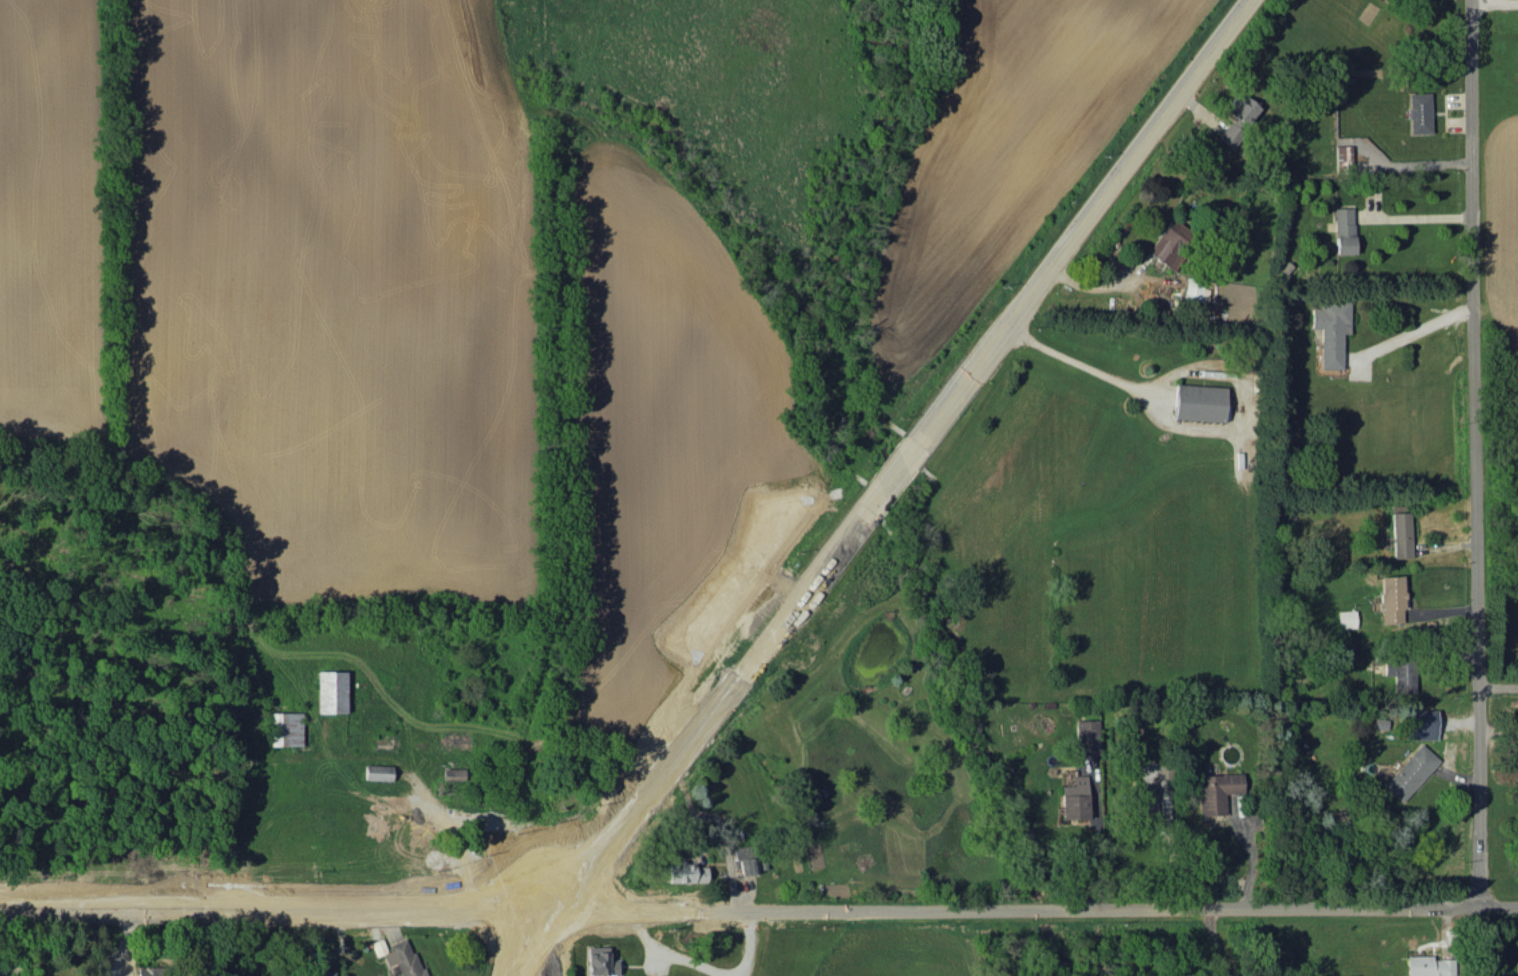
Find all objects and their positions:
road: (1504, 0)
building: (1419, 112)
building: (1238, 117)
building: (1343, 153)
road: (1415, 217)
building: (1343, 229)
building: (1168, 242)
building: (1195, 290)
building: (1330, 329)
road: (1412, 331)
road: (958, 385)
building: (1199, 402)
road: (1192, 429)
road: (1475, 453)
building: (1400, 533)
building: (1390, 598)
building: (1345, 618)
building: (1345, 648)
building: (1399, 672)
road: (1498, 690)
building: (331, 691)
building: (1420, 724)
building: (285, 728)
building: (1086, 736)
building: (377, 771)
building: (1409, 771)
building: (1162, 772)
building: (453, 773)
building: (1216, 791)
building: (1146, 796)
building: (1073, 798)
road: (618, 818)
road: (627, 827)
road: (1252, 854)
road: (1097, 857)
building: (746, 858)
road: (519, 863)
building: (686, 872)
road: (372, 900)
road: (608, 900)
road: (118, 910)
road: (1074, 910)
road: (601, 914)
road: (373, 919)
road: (1215, 941)
road: (509, 948)
road: (532, 953)
building: (398, 955)
building: (599, 960)
building: (1427, 965)
road: (705, 967)
building: (147, 970)
building: (325, 973)
building: (39, 975)

